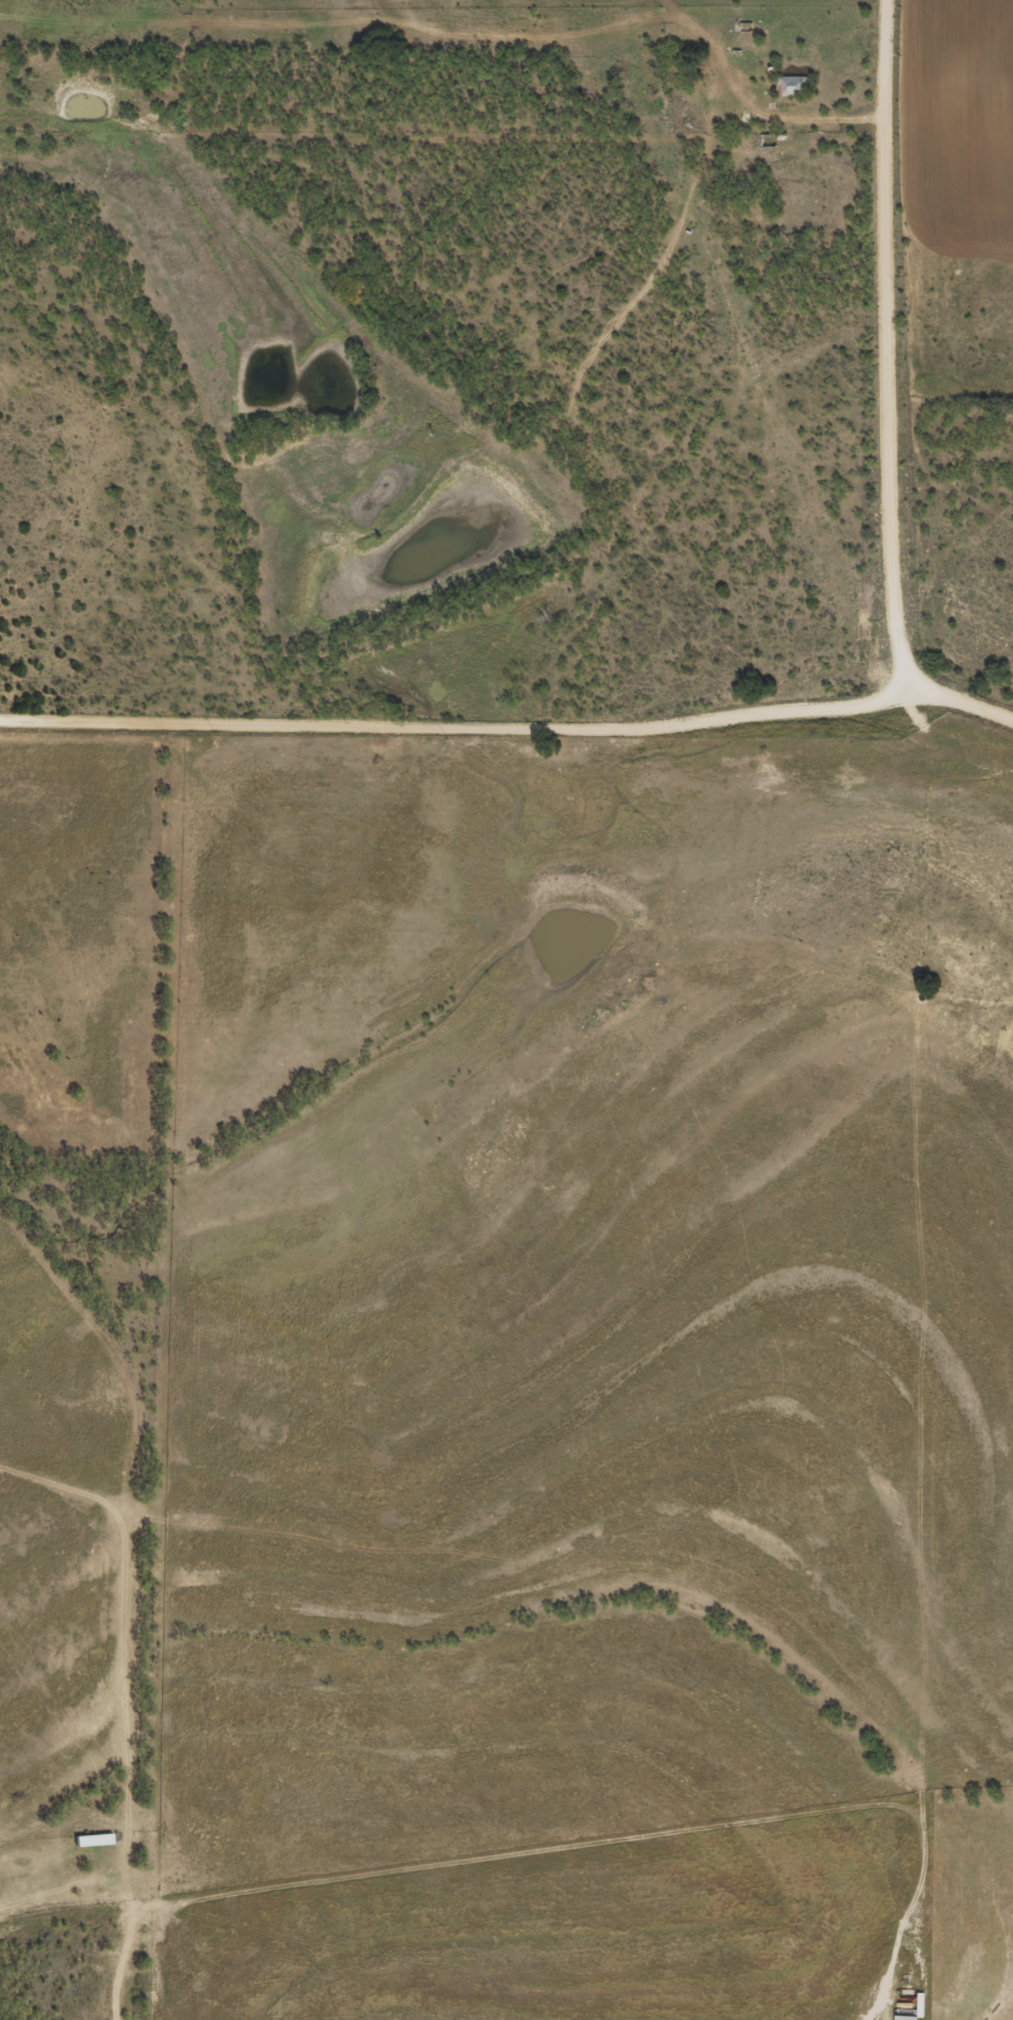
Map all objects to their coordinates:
building: (790, 92)
road: (669, 190)
road: (896, 349)
road: (958, 710)
road: (452, 738)
road: (145, 1741)
building: (90, 1848)
road: (869, 2016)

